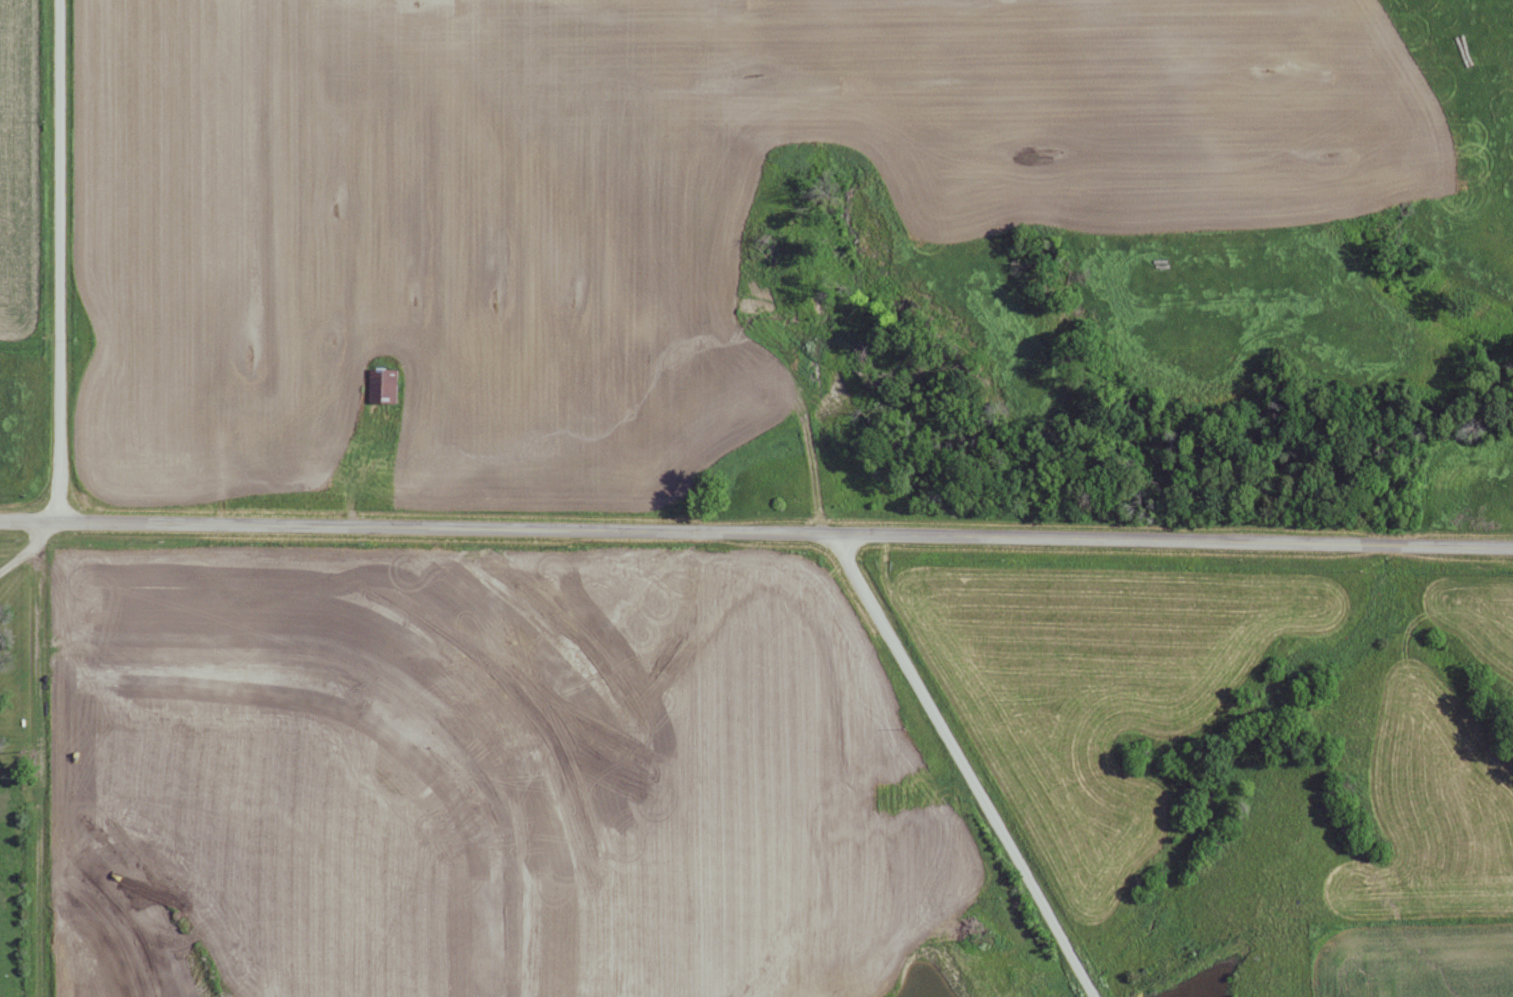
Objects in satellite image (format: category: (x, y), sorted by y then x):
road: (58, 261)
road: (756, 532)
road: (36, 759)
road: (962, 765)

